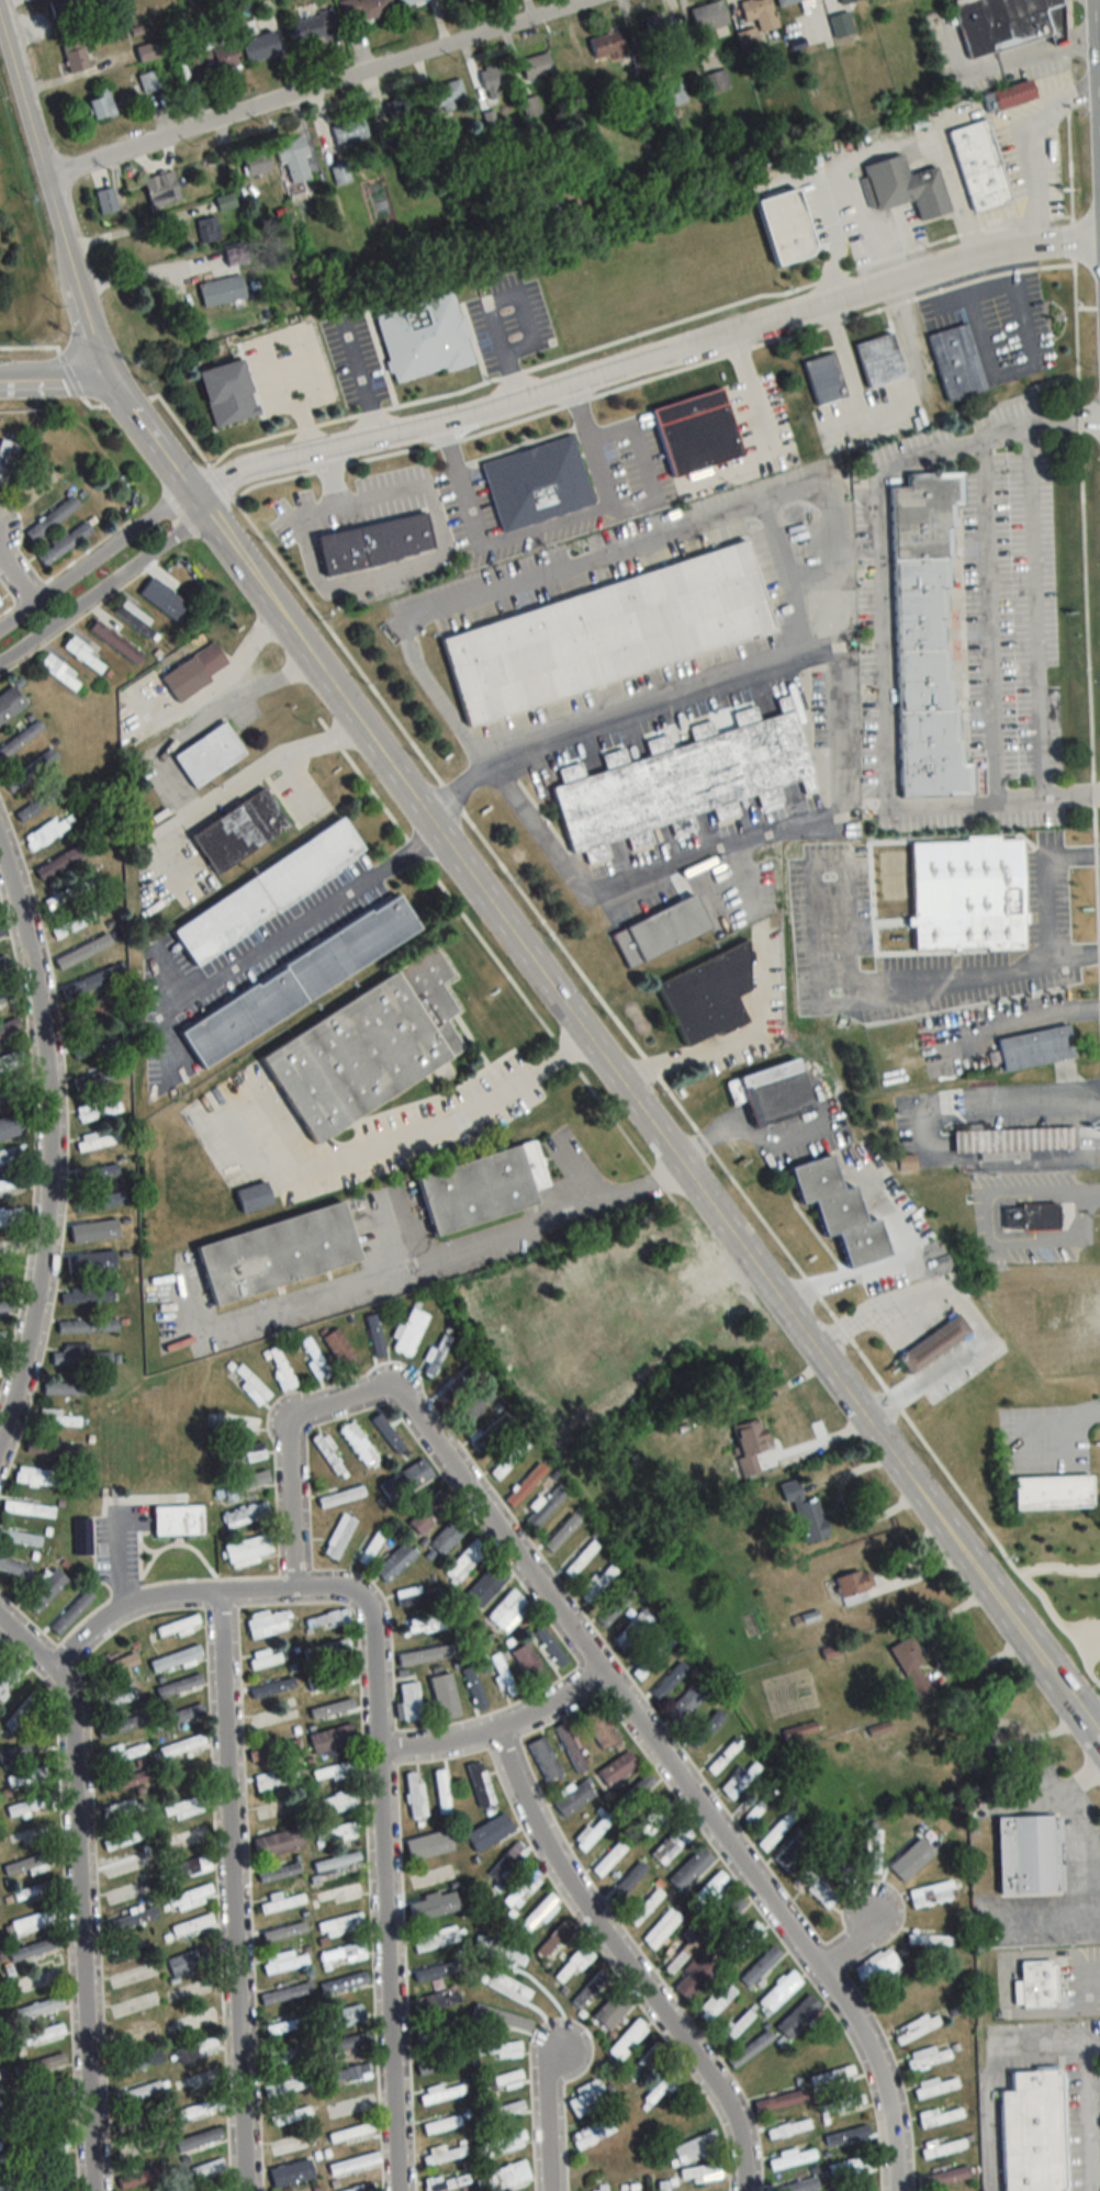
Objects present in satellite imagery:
building: (848, 1)
building: (408, 2)
building: (786, 2)
building: (67, 7)
building: (363, 9)
building: (760, 13)
building: (709, 15)
building: (1002, 23)
building: (842, 24)
building: (313, 25)
building: (656, 25)
building: (607, 44)
building: (260, 46)
building: (147, 50)
building: (75, 55)
building: (212, 57)
road: (1004, 61)
building: (537, 65)
building: (149, 80)
building: (493, 80)
building: (717, 81)
road: (316, 89)
building: (673, 91)
building: (449, 94)
building: (1014, 94)
building: (101, 103)
building: (402, 106)
building: (350, 131)
road: (1036, 145)
building: (294, 159)
building: (256, 161)
building: (980, 166)
building: (340, 172)
building: (907, 187)
building: (165, 191)
building: (106, 201)
building: (786, 226)
road: (131, 227)
building: (207, 229)
building: (235, 256)
road: (143, 273)
building: (222, 290)
road: (492, 301)
building: (424, 338)
road: (98, 359)
road: (643, 359)
building: (880, 360)
building: (957, 362)
road: (1007, 378)
building: (824, 379)
road: (54, 382)
building: (227, 392)
road: (895, 400)
building: (697, 435)
building: (7, 460)
building: (535, 482)
building: (40, 488)
building: (52, 518)
road: (583, 518)
road: (642, 540)
building: (64, 541)
building: (371, 542)
road: (865, 551)
road: (94, 558)
road: (436, 560)
road: (101, 583)
road: (25, 587)
building: (159, 603)
building: (0, 606)
road: (1040, 614)
building: (133, 618)
road: (991, 622)
road: (885, 630)
building: (607, 633)
building: (927, 640)
building: (115, 642)
building: (83, 655)
building: (193, 672)
building: (59, 673)
building: (10, 704)
road: (842, 721)
building: (20, 739)
building: (209, 755)
building: (30, 771)
building: (683, 780)
road: (179, 786)
building: (36, 805)
building: (239, 831)
building: (45, 833)
building: (59, 865)
road: (1047, 881)
building: (269, 892)
building: (68, 894)
building: (969, 895)
building: (74, 924)
road: (301, 925)
building: (662, 932)
building: (1, 933)
building: (80, 953)
road: (1030, 962)
building: (3, 966)
building: (300, 980)
building: (7, 996)
building: (709, 996)
building: (87, 1012)
road: (1044, 1018)
building: (9, 1027)
road: (734, 1040)
building: (366, 1047)
building: (1037, 1049)
building: (11, 1060)
building: (96, 1078)
building: (773, 1093)
building: (8, 1094)
building: (109, 1110)
building: (86, 1113)
building: (10, 1127)
road: (744, 1131)
road: (409, 1132)
building: (1017, 1141)
building: (97, 1142)
road: (925, 1142)
road: (48, 1146)
building: (13, 1155)
building: (98, 1170)
building: (12, 1184)
road: (1095, 1188)
building: (483, 1189)
road: (698, 1189)
building: (255, 1198)
building: (100, 1202)
building: (842, 1213)
building: (11, 1217)
building: (1033, 1217)
building: (97, 1234)
road: (988, 1234)
building: (10, 1248)
building: (279, 1255)
road: (413, 1263)
building: (89, 1265)
road: (891, 1265)
building: (5, 1278)
building: (88, 1296)
building: (4, 1308)
road: (963, 1315)
building: (87, 1326)
building: (372, 1330)
building: (411, 1333)
building: (935, 1344)
building: (341, 1350)
building: (70, 1356)
building: (437, 1356)
building: (102, 1358)
building: (314, 1359)
building: (280, 1369)
building: (454, 1383)
building: (251, 1386)
building: (66, 1389)
road: (339, 1405)
building: (473, 1407)
building: (56, 1418)
building: (238, 1420)
road: (1067, 1427)
building: (492, 1431)
building: (357, 1443)
building: (753, 1447)
building: (54, 1449)
building: (326, 1453)
building: (242, 1454)
building: (509, 1459)
building: (37, 1477)
building: (406, 1480)
building: (527, 1484)
building: (1054, 1492)
building: (341, 1496)
building: (546, 1507)
building: (27, 1508)
road: (290, 1512)
building: (430, 1512)
building: (245, 1515)
building: (811, 1518)
building: (178, 1520)
building: (558, 1528)
building: (449, 1535)
building: (82, 1536)
building: (339, 1536)
building: (20, 1538)
building: (1074, 1539)
building: (371, 1547)
building: (248, 1550)
building: (464, 1561)
building: (395, 1563)
building: (14, 1566)
building: (597, 1581)
building: (487, 1584)
building: (855, 1586)
building: (45, 1591)
road: (198, 1596)
building: (415, 1596)
building: (617, 1606)
building: (71, 1611)
building: (508, 1611)
building: (268, 1622)
building: (424, 1625)
building: (177, 1627)
building: (632, 1630)
building: (830, 1652)
building: (0, 1654)
building: (415, 1656)
building: (652, 1658)
building: (176, 1659)
building: (121, 1663)
building: (528, 1663)
building: (911, 1665)
building: (502, 1675)
building: (332, 1678)
building: (666, 1679)
building: (9, 1681)
building: (179, 1685)
building: (471, 1686)
building: (269, 1690)
building: (442, 1696)
building: (123, 1703)
building: (408, 1704)
building: (685, 1704)
building: (330, 1709)
building: (21, 1711)
building: (179, 1716)
road: (1092, 1722)
building: (706, 1724)
building: (122, 1726)
building: (600, 1728)
road: (495, 1731)
building: (796, 1734)
building: (332, 1739)
building: (182, 1745)
building: (571, 1748)
building: (21, 1750)
building: (274, 1750)
building: (725, 1756)
building: (545, 1757)
building: (618, 1767)
building: (336, 1772)
building: (26, 1776)
building: (189, 1776)
road: (676, 1777)
building: (741, 1779)
building: (127, 1782)
building: (480, 1783)
building: (442, 1791)
building: (635, 1791)
building: (415, 1796)
building: (343, 1800)
building: (29, 1805)
building: (187, 1807)
building: (121, 1809)
building: (270, 1810)
road: (1073, 1817)
building: (653, 1818)
building: (486, 1829)
building: (777, 1829)
building: (593, 1831)
building: (31, 1833)
building: (335, 1833)
building: (183, 1838)
building: (123, 1839)
building: (279, 1842)
building: (428, 1843)
building: (669, 1845)
building: (793, 1850)
building: (872, 1851)
building: (1026, 1853)
building: (609, 1858)
building: (507, 1862)
building: (840, 1862)
building: (911, 1862)
building: (128, 1863)
building: (337, 1863)
building: (188, 1867)
building: (692, 1868)
building: (279, 1872)
building: (430, 1877)
building: (627, 1881)
building: (816, 1887)
building: (523, 1889)
road: (78, 1891)
building: (708, 1891)
road: (231, 1892)
building: (125, 1894)
building: (340, 1894)
building: (931, 1894)
building: (189, 1898)
road: (384, 1899)
building: (281, 1902)
building: (538, 1913)
building: (726, 1915)
building: (132, 1920)
building: (34, 1921)
building: (191, 1925)
building: (340, 1925)
building: (661, 1928)
building: (279, 1931)
building: (435, 1939)
building: (745, 1939)
building: (553, 1940)
building: (930, 1940)
road: (853, 1943)
building: (34, 1948)
building: (343, 1955)
building: (189, 1962)
building: (282, 1962)
road: (622, 1962)
building: (572, 1965)
building: (761, 1966)
building: (876, 1967)
building: (132, 1976)
building: (696, 1977)
building: (35, 1980)
building: (346, 1982)
building: (1037, 1982)
road: (1074, 1984)
building: (508, 1988)
building: (590, 1988)
building: (190, 1990)
building: (779, 1991)
building: (285, 1993)
building: (716, 2003)
building: (38, 2008)
building: (611, 2010)
building: (798, 2015)
building: (345, 2016)
building: (194, 2020)
building: (287, 2025)
building: (736, 2025)
building: (917, 2027)
building: (38, 2035)
building: (136, 2036)
building: (627, 2040)
building: (750, 2048)
building: (192, 2050)
building: (497, 2050)
building: (285, 2054)
building: (927, 2058)
building: (643, 2061)
building: (136, 2063)
building: (439, 2064)
road: (992, 2070)
building: (350, 2074)
building: (831, 2075)
building: (194, 2079)
building: (498, 2081)
building: (288, 2085)
building: (934, 2086)
building: (661, 2088)
building: (53, 2089)
building: (136, 2092)
building: (441, 2093)
building: (587, 2097)
building: (779, 2100)
building: (841, 2103)
building: (339, 2109)
building: (501, 2111)
building: (290, 2115)
building: (940, 2116)
road: (546, 2117)
road: (1087, 2119)
building: (47, 2122)
building: (134, 2122)
building: (441, 2124)
building: (788, 2128)
building: (349, 2132)
building: (1034, 2132)
building: (592, 2133)
building: (845, 2137)
building: (198, 2138)
building: (501, 2144)
building: (139, 2146)
building: (696, 2147)
building: (942, 2148)
building: (444, 2154)
building: (790, 2157)
building: (2, 2158)
building: (352, 2164)
building: (852, 2167)
building: (201, 2170)
building: (291, 2172)
building: (700, 2172)
building: (507, 2176)
building: (141, 2177)
building: (944, 2178)
building: (43, 2179)
building: (444, 2183)
building: (798, 2184)
building: (662, 2186)
building: (631, 2187)
building: (1, 2188)
building: (362, 2188)
building: (598, 2189)

